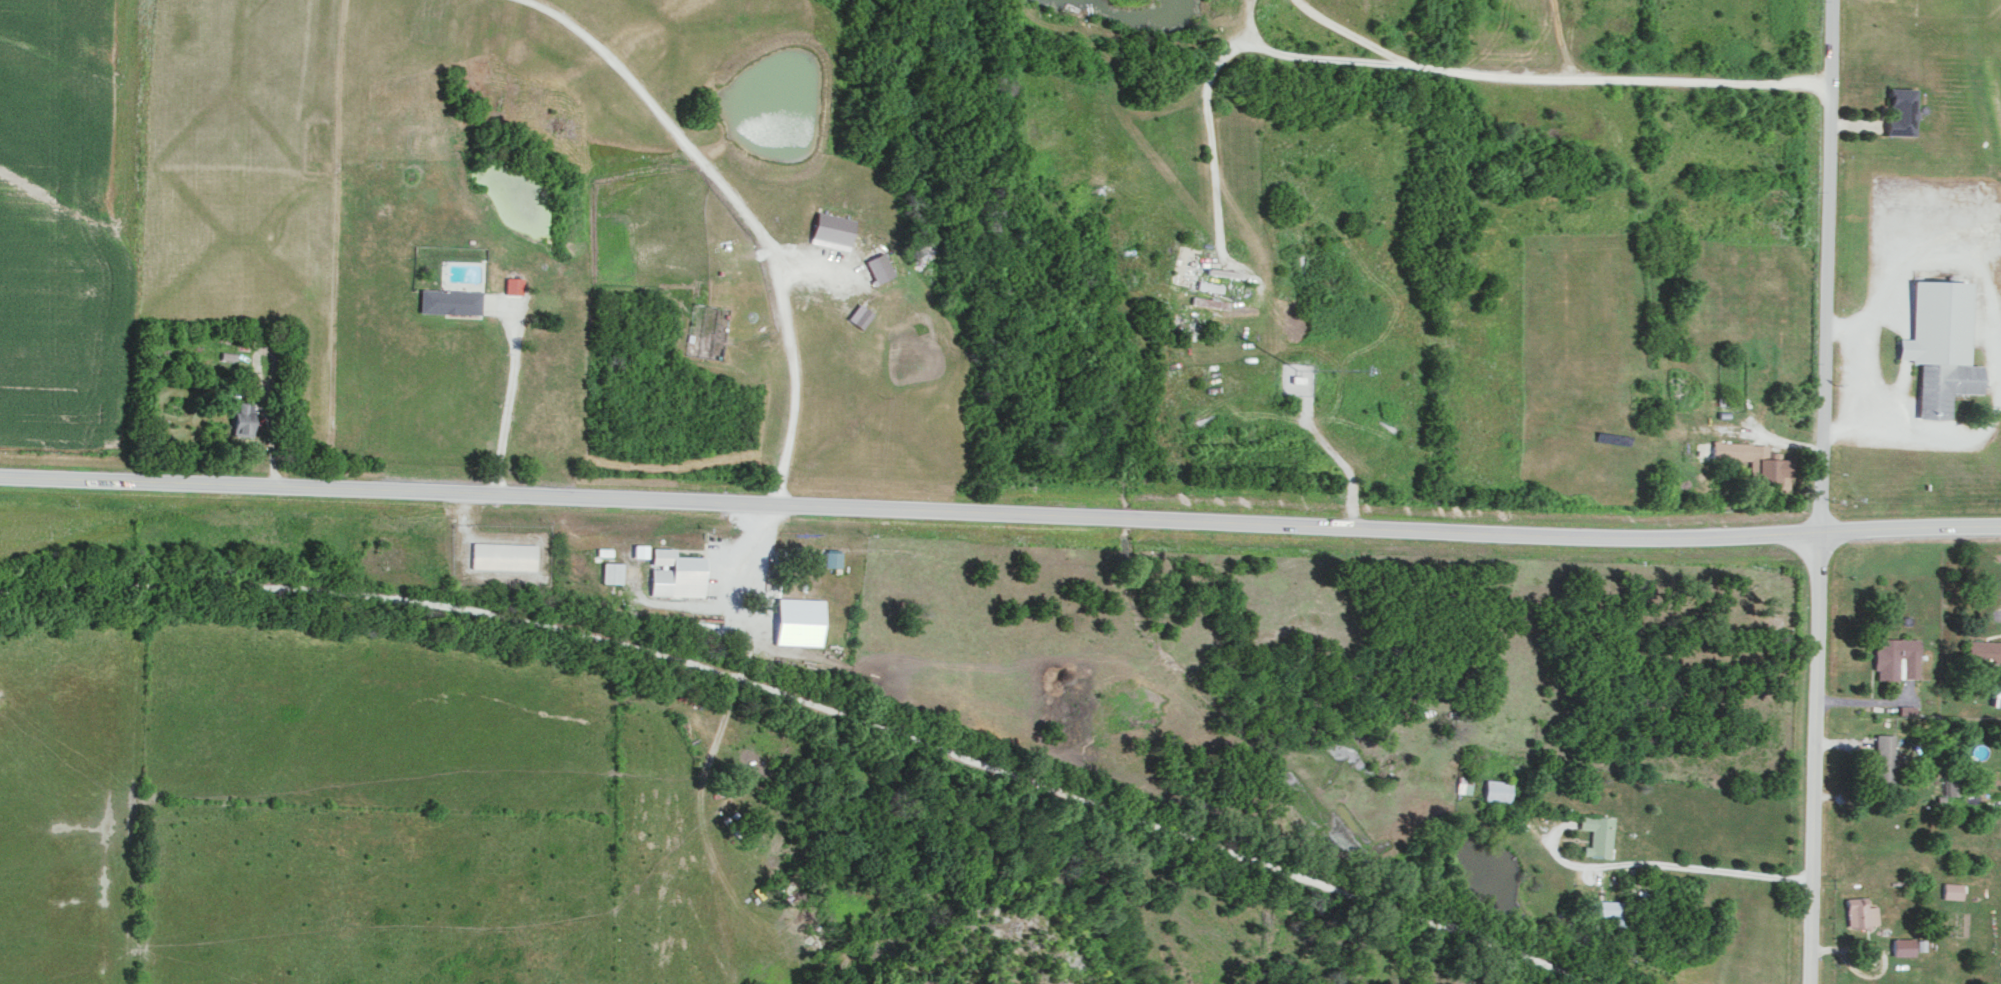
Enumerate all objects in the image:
road: (1424, 69)
building: (1900, 110)
road: (746, 212)
building: (831, 229)
road: (1823, 265)
building: (879, 266)
building: (1223, 271)
building: (512, 284)
building: (1209, 285)
building: (449, 300)
building: (860, 314)
road: (1990, 333)
building: (1940, 344)
road: (507, 407)
building: (242, 418)
road: (1318, 444)
building: (1754, 462)
road: (1349, 506)
road: (1000, 513)
building: (640, 549)
building: (503, 555)
building: (832, 558)
building: (612, 571)
building: (675, 572)
building: (797, 621)
road: (753, 641)
building: (1984, 650)
building: (1895, 657)
road: (1903, 682)
building: (1996, 696)
road: (1865, 702)
road: (814, 705)
building: (1906, 709)
road: (1813, 757)
building: (1883, 758)
building: (1950, 784)
building: (1464, 785)
building: (1496, 790)
building: (1598, 834)
road: (1666, 867)
building: (1952, 890)
building: (1605, 910)
building: (1860, 912)
building: (1903, 946)

